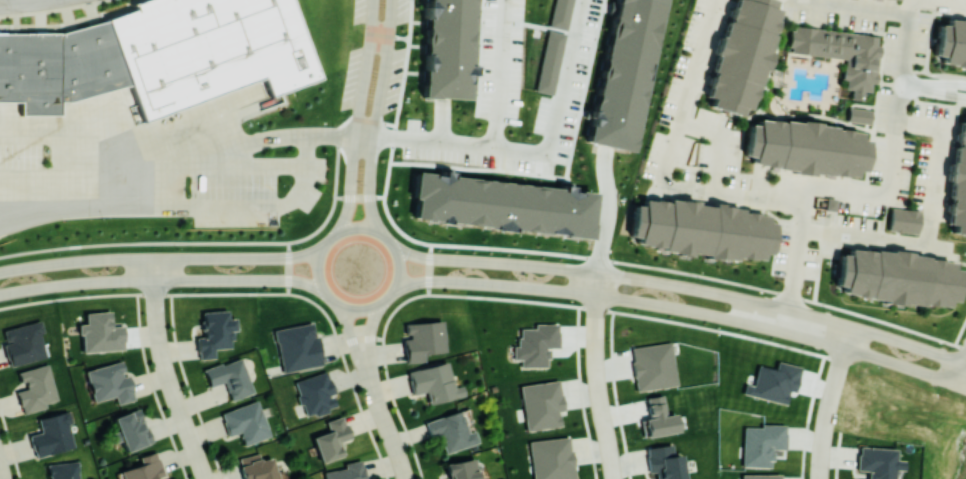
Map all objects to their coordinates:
road: (791, 0)
road: (40, 1)
road: (793, 1)
road: (27, 2)
road: (912, 3)
road: (939, 6)
building: (560, 13)
building: (951, 44)
building: (447, 48)
building: (208, 49)
building: (841, 53)
building: (740, 54)
building: (87, 61)
building: (549, 61)
building: (29, 71)
building: (623, 73)
road: (500, 74)
road: (920, 82)
road: (950, 82)
road: (949, 91)
road: (379, 101)
road: (360, 102)
road: (904, 103)
building: (859, 115)
road: (670, 144)
building: (804, 147)
road: (537, 153)
road: (184, 157)
road: (234, 163)
building: (957, 182)
road: (358, 196)
building: (829, 203)
building: (501, 204)
road: (245, 205)
road: (607, 210)
road: (343, 219)
road: (376, 219)
building: (904, 219)
building: (700, 228)
road: (388, 240)
road: (212, 241)
road: (567, 255)
road: (165, 257)
road: (793, 258)
road: (287, 267)
road: (428, 269)
building: (895, 276)
road: (598, 278)
road: (166, 279)
road: (492, 283)
road: (683, 284)
road: (257, 293)
road: (657, 317)
road: (784, 326)
road: (959, 330)
building: (100, 332)
building: (214, 333)
building: (422, 339)
building: (24, 342)
road: (355, 345)
building: (297, 346)
road: (370, 346)
building: (652, 365)
road: (964, 368)
road: (166, 370)
building: (229, 377)
road: (959, 377)
building: (772, 381)
building: (109, 382)
building: (433, 382)
road: (596, 382)
building: (35, 388)
building: (315, 393)
road: (615, 395)
road: (828, 400)
building: (541, 404)
road: (398, 409)
road: (361, 411)
building: (657, 417)
building: (245, 421)
park: (953, 427)
building: (132, 429)
building: (450, 430)
building: (52, 434)
road: (392, 434)
building: (331, 439)
building: (762, 443)
park: (933, 443)
road: (803, 449)
building: (551, 458)
building: (664, 462)
building: (878, 462)
building: (256, 467)
building: (143, 468)
building: (461, 469)
building: (63, 470)
road: (1, 471)
building: (347, 471)
building: (761, 476)

